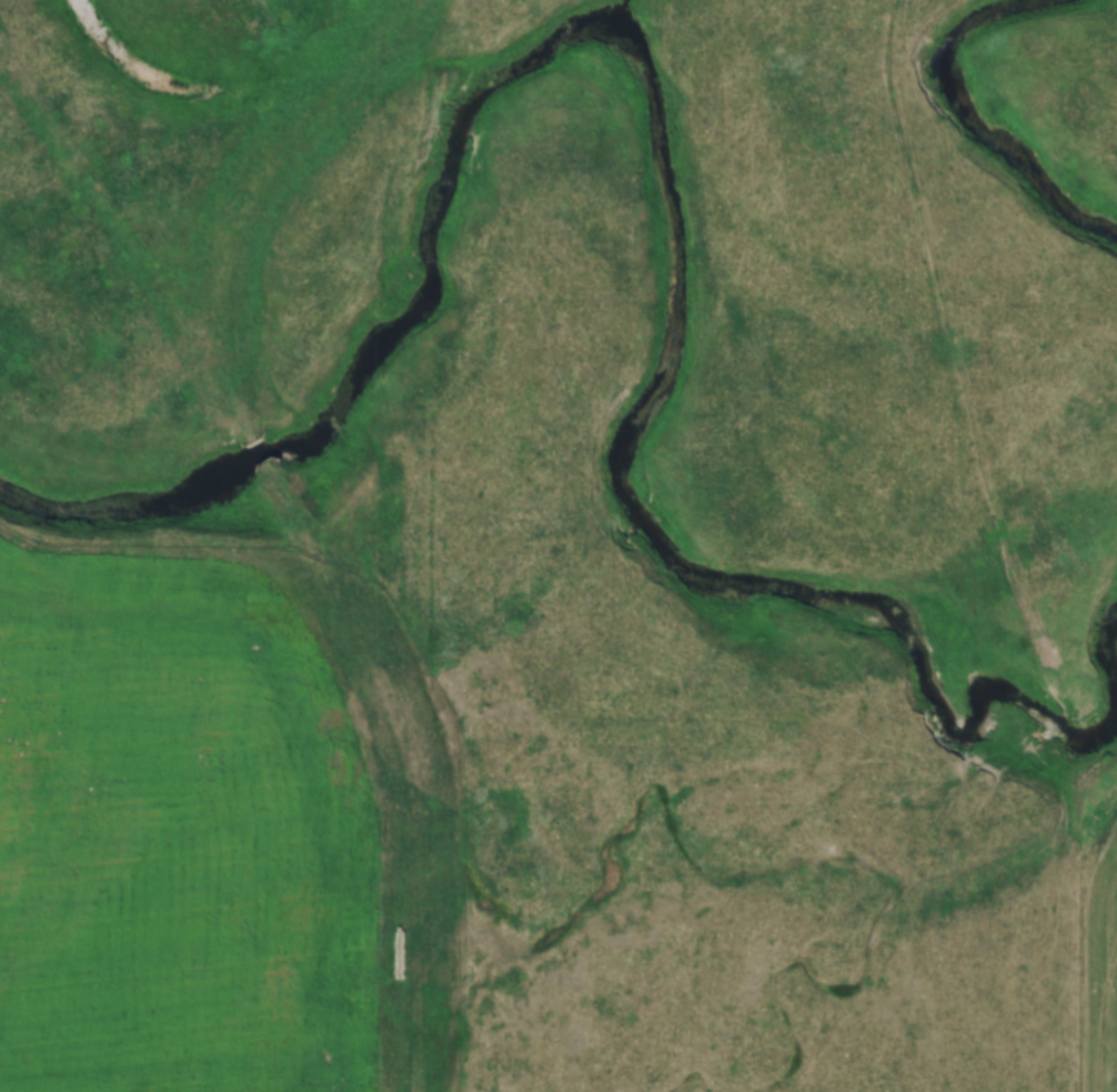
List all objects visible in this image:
road: (407, 767)
road: (1091, 943)

